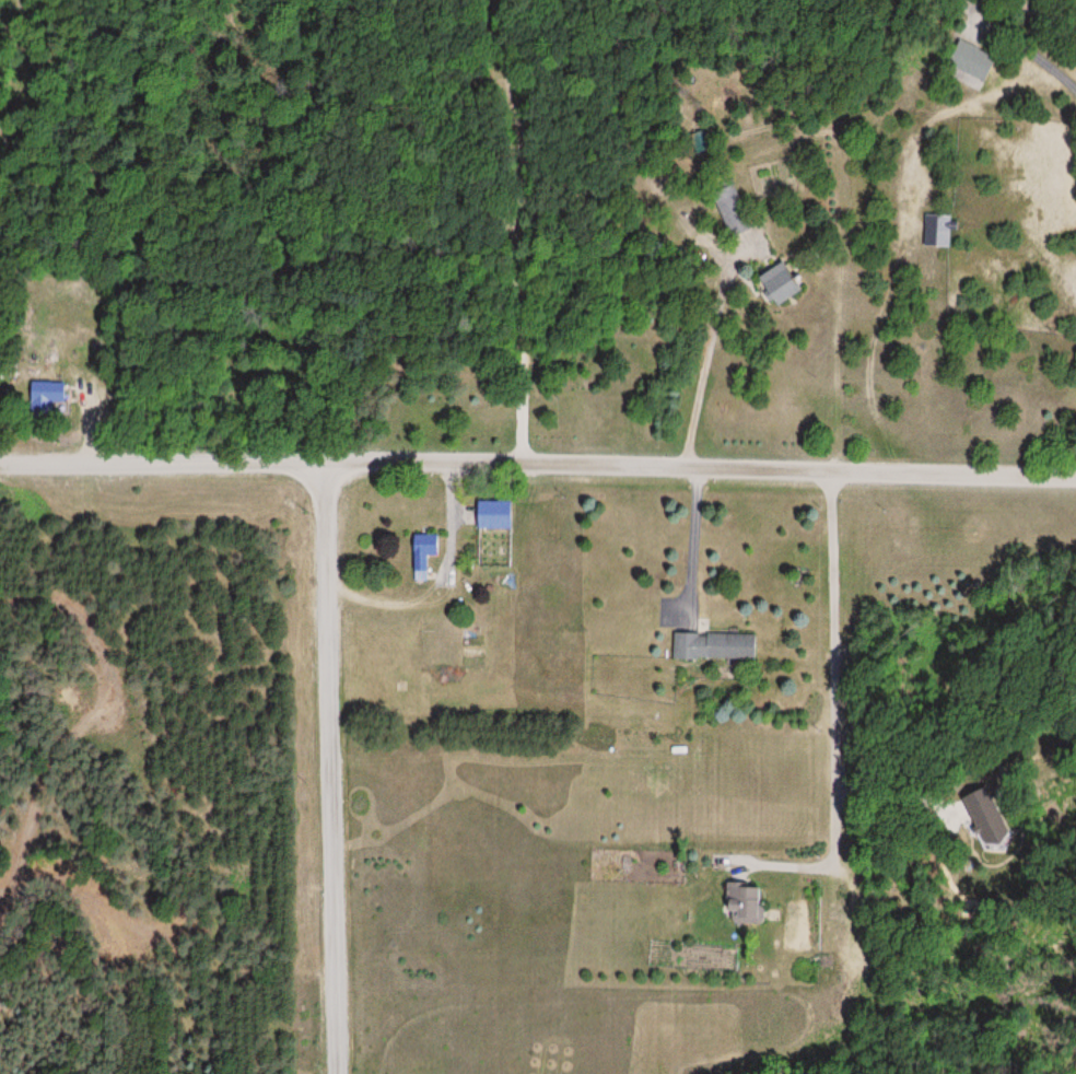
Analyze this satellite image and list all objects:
building: (969, 59)
building: (730, 209)
building: (936, 231)
road: (779, 266)
building: (775, 284)
building: (46, 396)
road: (538, 467)
building: (491, 515)
building: (422, 554)
building: (714, 645)
road: (331, 768)
building: (1002, 816)
building: (742, 904)

